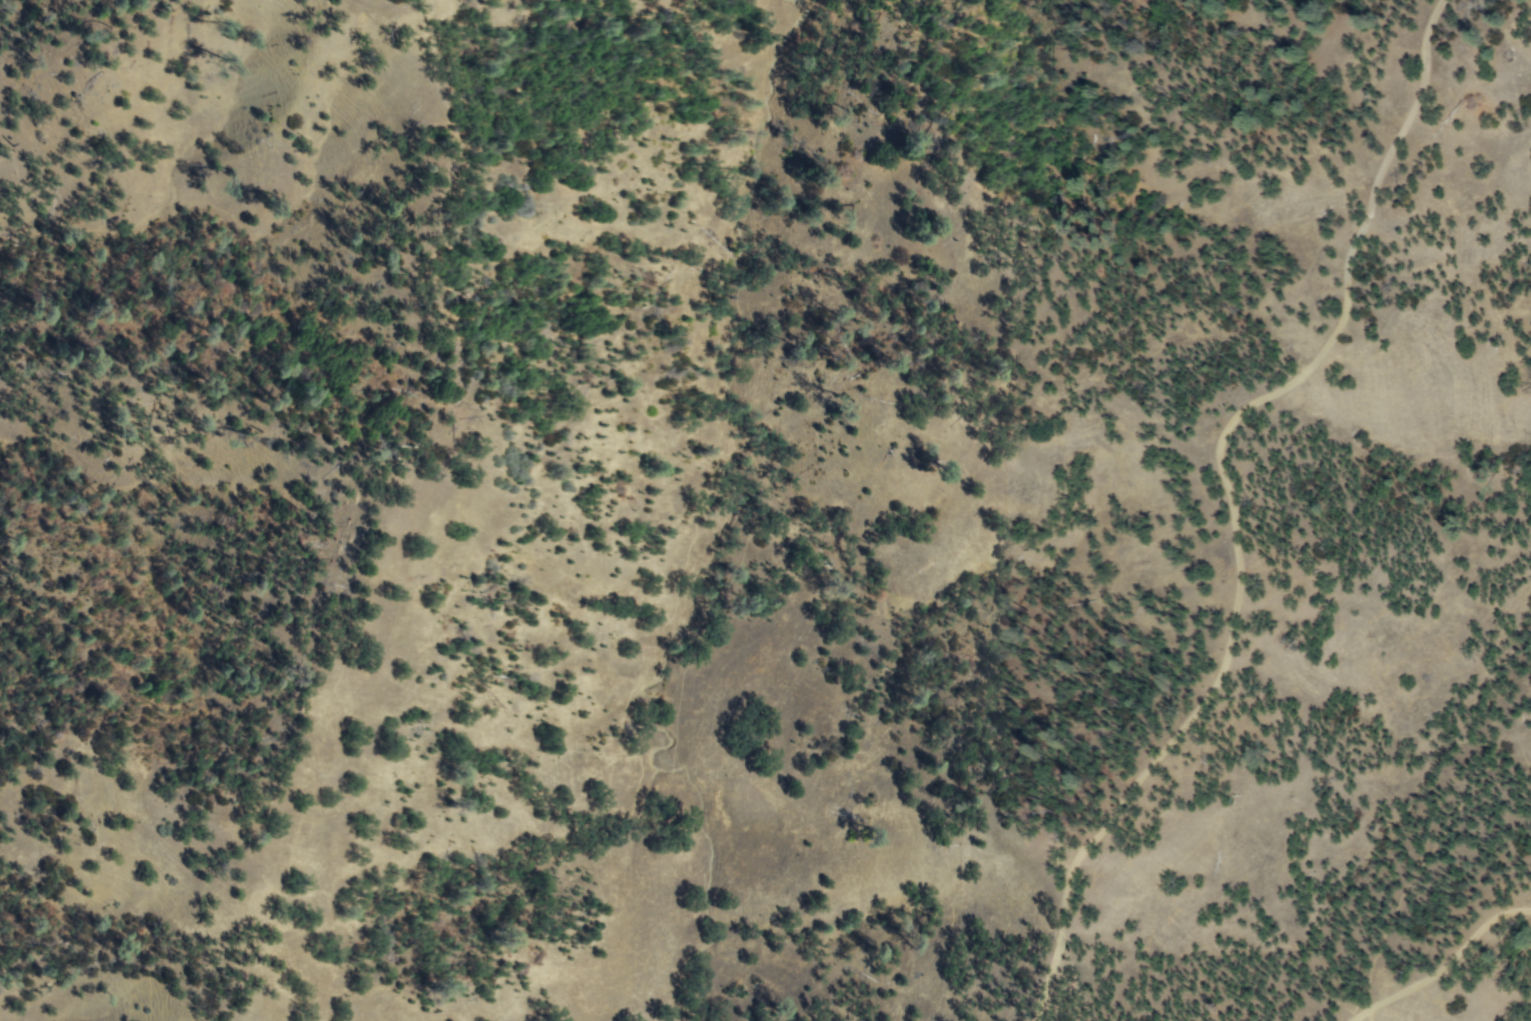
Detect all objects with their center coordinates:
road: (1456, 971)

